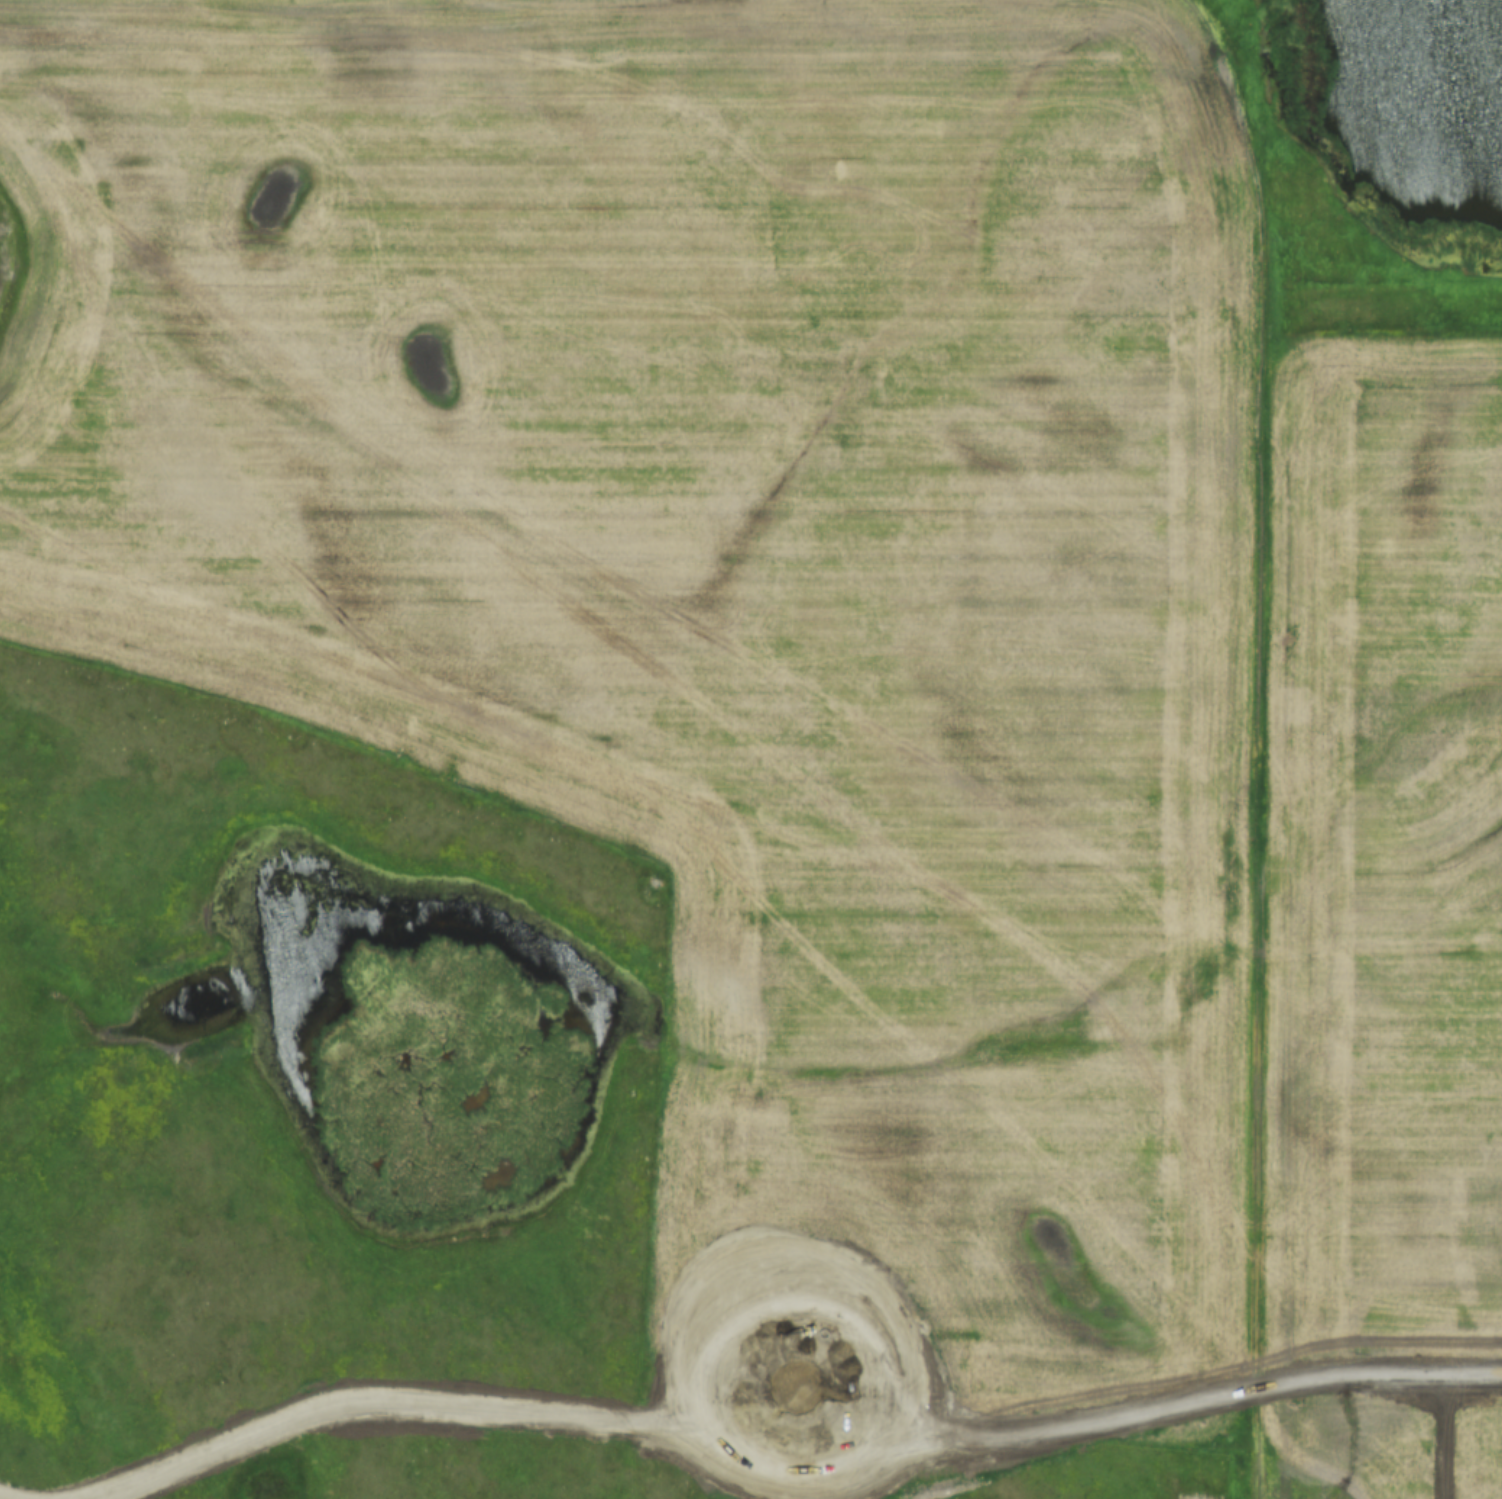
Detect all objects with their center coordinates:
road: (1264, 744)
wind turbine: (798, 1389)

